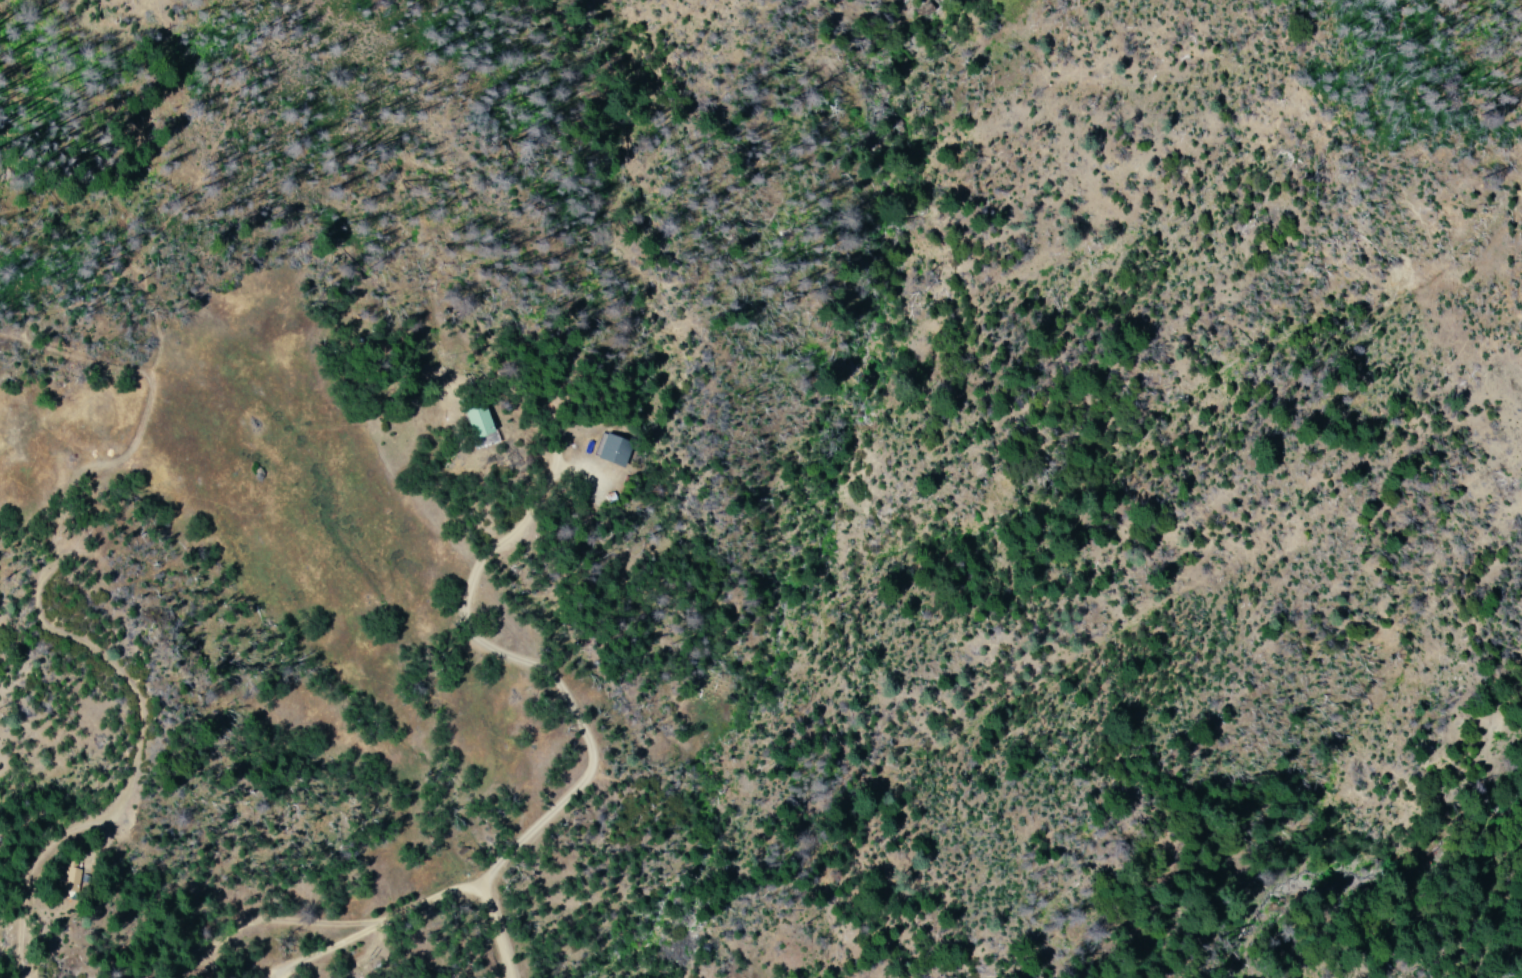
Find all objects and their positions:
building: (476, 421)
building: (609, 451)
road: (501, 489)
road: (284, 721)
building: (65, 881)
road: (339, 890)

